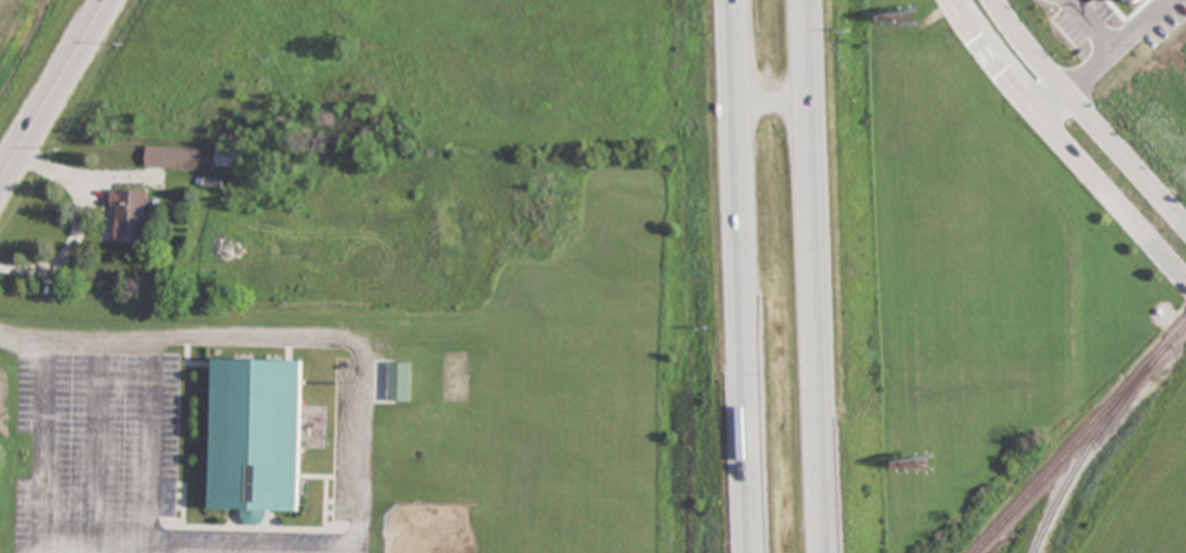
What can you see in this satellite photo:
building: (1125, 1)
road: (1103, 55)
road: (52, 90)
road: (775, 94)
road: (1087, 109)
road: (1067, 142)
building: (190, 157)
building: (130, 215)
road: (739, 276)
road: (814, 276)
crop: (980, 276)
road: (284, 334)
building: (398, 382)
street lamp: (70, 429)
street lamp: (125, 432)
building: (254, 435)
railway: (1077, 436)
road: (43, 444)
road: (96, 445)
road: (152, 446)
railway: (1080, 457)
parking lot: (151, 460)
road: (152, 549)

